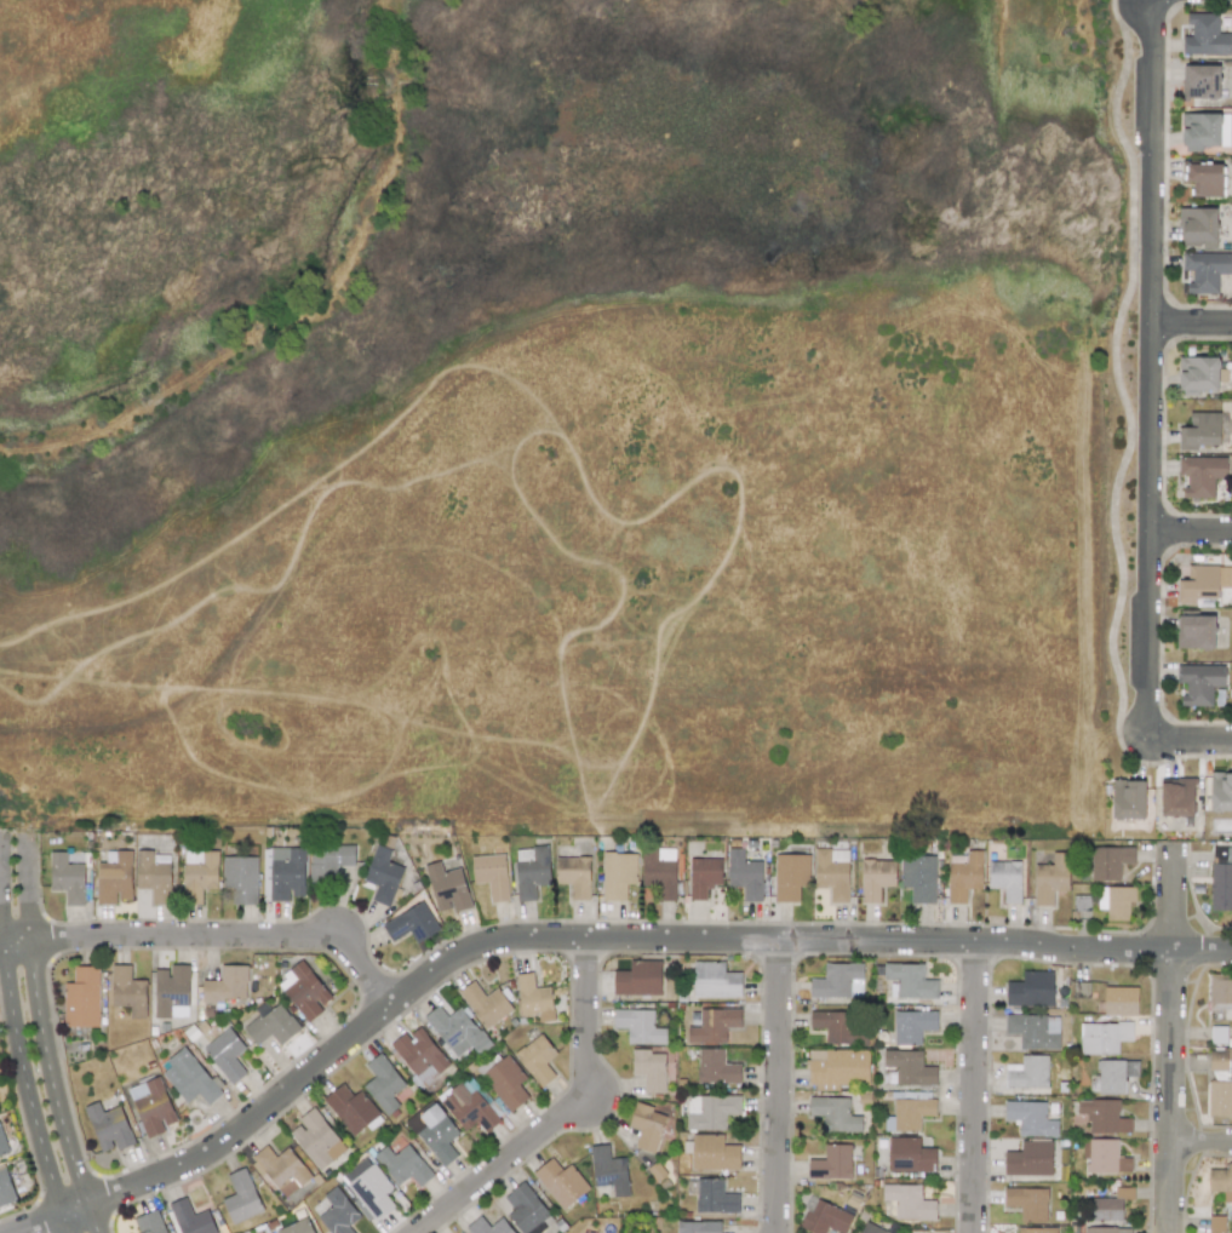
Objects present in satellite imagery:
building: (1204, 36)
building: (1201, 81)
building: (1204, 130)
building: (1204, 179)
building: (1198, 228)
building: (1204, 271)
road: (1190, 326)
road: (1113, 369)
road: (1148, 369)
building: (1198, 373)
building: (1199, 431)
building: (1201, 475)
road: (1190, 538)
building: (1203, 583)
building: (1194, 631)
building: (1199, 683)
road: (1188, 741)
building: (1220, 792)
building: (1176, 797)
building: (1128, 798)
building: (328, 861)
building: (1108, 861)
building: (659, 870)
building: (285, 871)
building: (531, 871)
building: (832, 872)
building: (154, 874)
building: (199, 874)
building: (382, 874)
building: (491, 874)
building: (617, 874)
building: (744, 874)
building: (573, 876)
building: (703, 876)
building: (790, 876)
building: (918, 877)
building: (964, 877)
building: (67, 878)
building: (114, 878)
building: (241, 878)
building: (875, 878)
building: (1050, 878)
building: (1221, 878)
building: (1004, 879)
building: (447, 888)
road: (27, 891)
building: (1116, 901)
road: (2, 914)
building: (412, 923)
road: (228, 936)
road: (617, 937)
road: (2, 941)
road: (18, 941)
building: (638, 979)
building: (715, 980)
building: (910, 980)
building: (838, 981)
building: (227, 985)
building: (1031, 990)
building: (127, 991)
building: (171, 991)
building: (303, 991)
building: (1220, 991)
building: (81, 998)
building: (533, 998)
building: (1119, 1000)
building: (485, 1004)
building: (714, 1025)
building: (271, 1026)
building: (638, 1026)
building: (912, 1026)
building: (838, 1027)
building: (455, 1031)
building: (1033, 1031)
building: (1102, 1037)
road: (1170, 1043)
building: (225, 1054)
building: (419, 1054)
building: (537, 1060)
building: (716, 1067)
building: (837, 1067)
building: (906, 1068)
building: (648, 1069)
building: (1028, 1073)
road: (50, 1074)
building: (1113, 1074)
building: (188, 1077)
road: (24, 1079)
building: (505, 1082)
building: (383, 1083)
road: (974, 1086)
road: (780, 1088)
building: (1220, 1099)
building: (151, 1106)
building: (468, 1107)
building: (351, 1109)
building: (710, 1111)
building: (833, 1113)
road: (567, 1116)
building: (1104, 1117)
building: (1030, 1118)
building: (108, 1126)
building: (646, 1126)
building: (437, 1134)
road: (1202, 1137)
building: (316, 1139)
building: (2, 1145)
building: (714, 1153)
building: (910, 1155)
building: (1104, 1157)
building: (1028, 1159)
building: (831, 1163)
building: (402, 1165)
building: (280, 1169)
building: (608, 1170)
building: (560, 1182)
building: (1221, 1182)
building: (5, 1188)
building: (367, 1188)
building: (715, 1197)
building: (241, 1198)
building: (909, 1202)
building: (1027, 1203)
building: (1110, 1205)
building: (526, 1209)
building: (338, 1212)
road: (50, 1218)
road: (92, 1218)
building: (190, 1218)
building: (825, 1218)
building: (149, 1222)
road: (65, 1223)
building: (1215, 1225)
building: (487, 1226)
building: (298, 1227)
building: (698, 1227)
building: (871, 1228)
building: (1036, 1229)
building: (1104, 1229)
building: (259, 1232)

